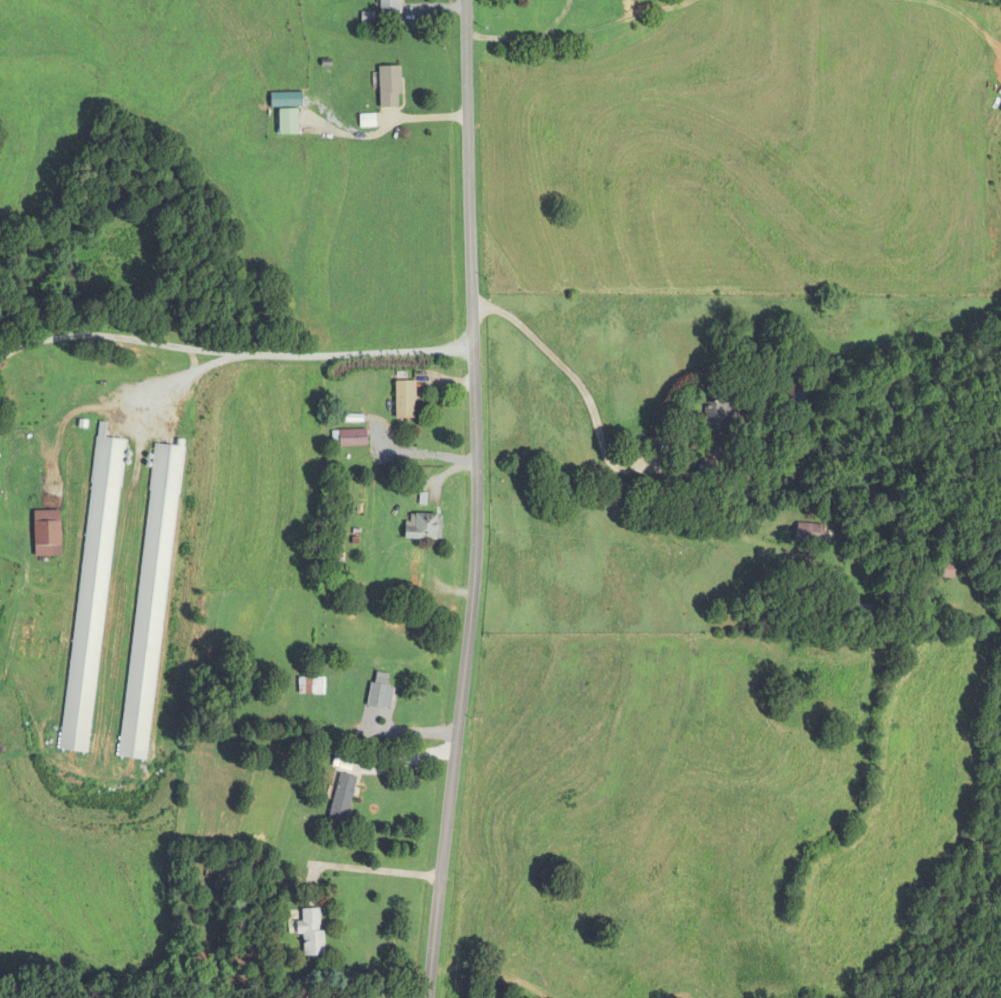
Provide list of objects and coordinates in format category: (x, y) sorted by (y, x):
building: (389, 6)
building: (389, 87)
building: (288, 122)
road: (238, 355)
building: (404, 400)
road: (597, 405)
building: (715, 422)
building: (349, 438)
road: (485, 500)
building: (422, 527)
building: (46, 533)
building: (808, 536)
building: (414, 569)
building: (946, 569)
building: (91, 595)
building: (150, 601)
building: (862, 612)
building: (310, 686)
building: (380, 696)
road: (413, 757)
building: (342, 798)
road: (380, 870)
building: (311, 933)

